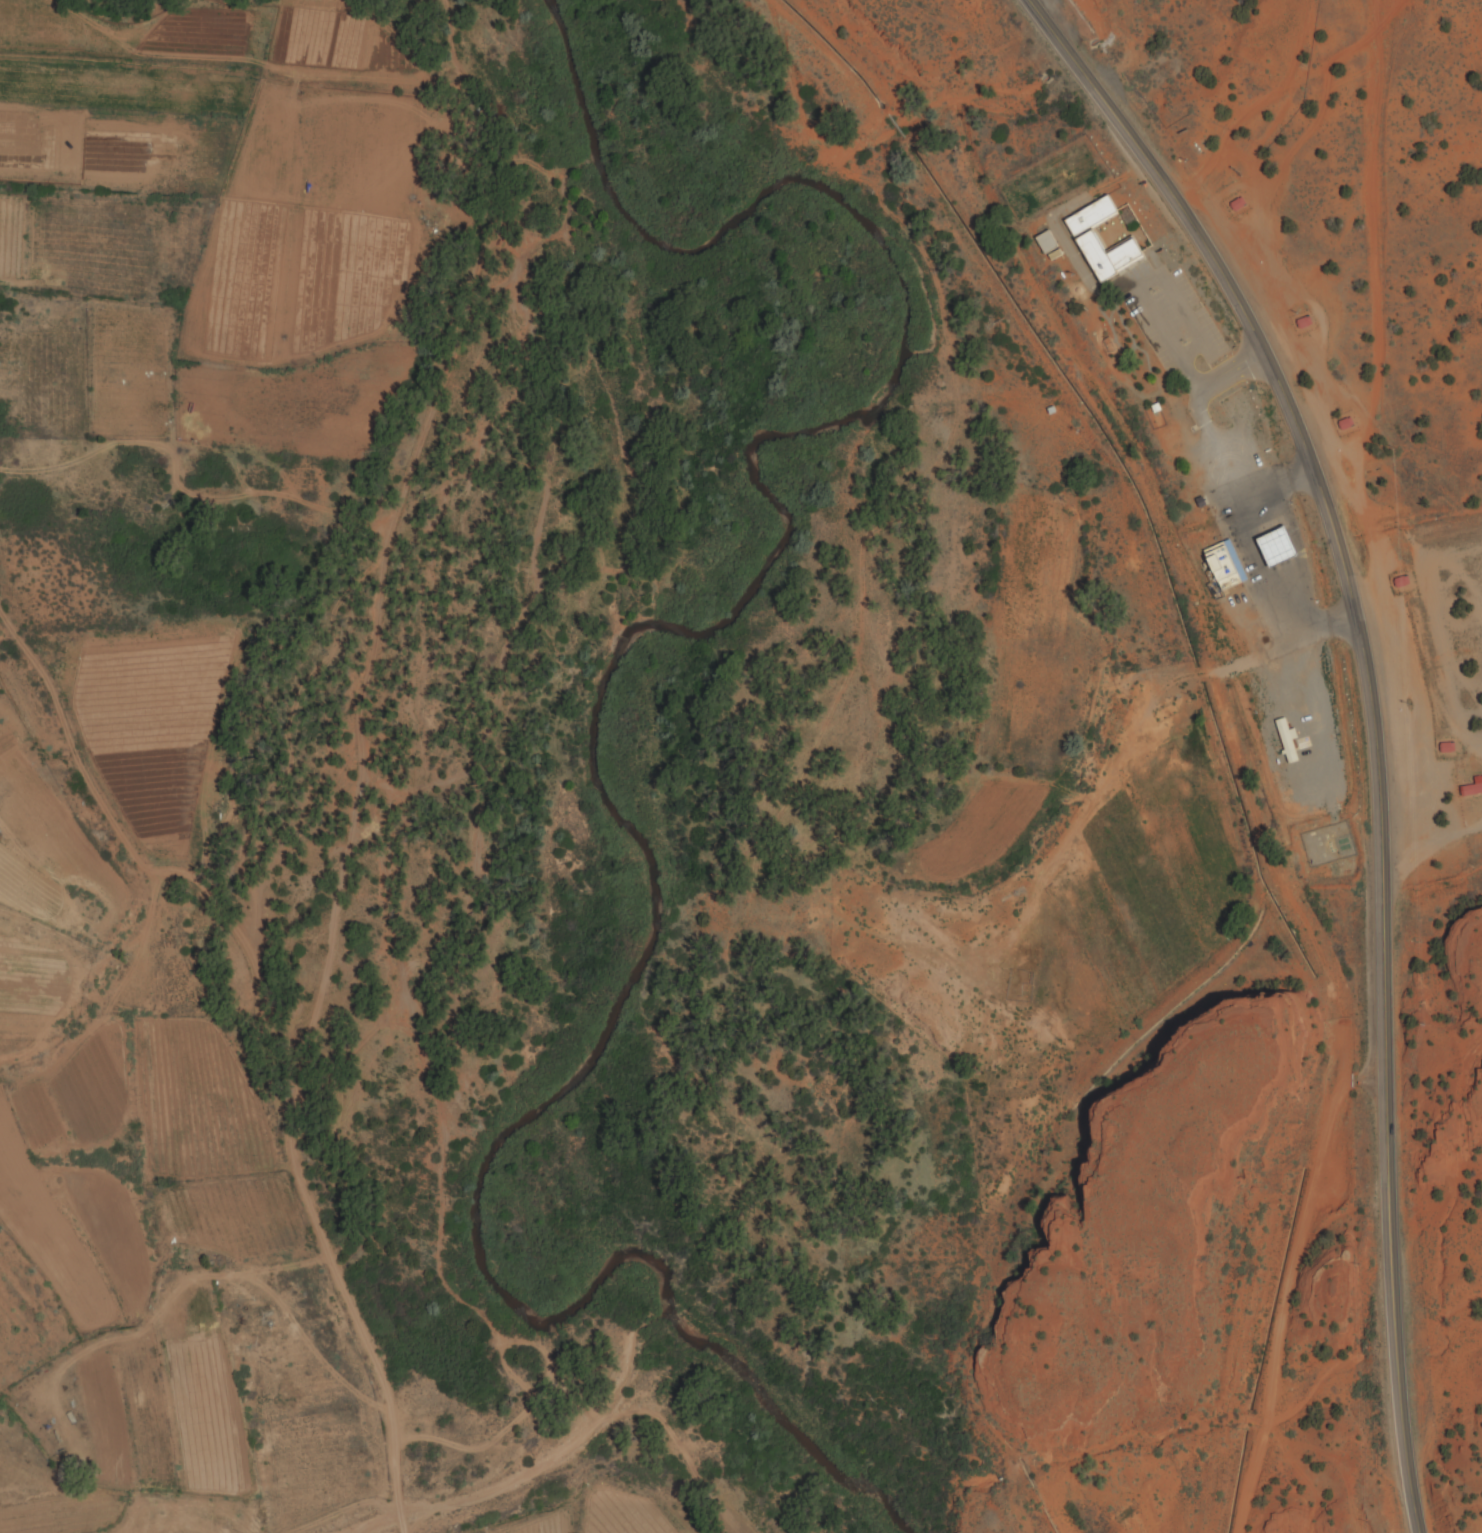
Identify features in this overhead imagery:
building: (1234, 201)
building: (1086, 240)
building: (1050, 242)
parking lot: (1170, 319)
building: (1300, 319)
building: (1305, 324)
road: (1215, 376)
building: (1340, 421)
building: (1346, 424)
road: (1317, 482)
gas station: (1272, 541)
building: (1281, 548)
road: (1252, 560)
building: (1217, 562)
building: (1397, 580)
building: (1400, 584)
building: (1290, 742)
building: (1443, 748)
building: (1467, 790)
road: (214, 1045)
road: (1291, 1267)
road: (1394, 1286)

